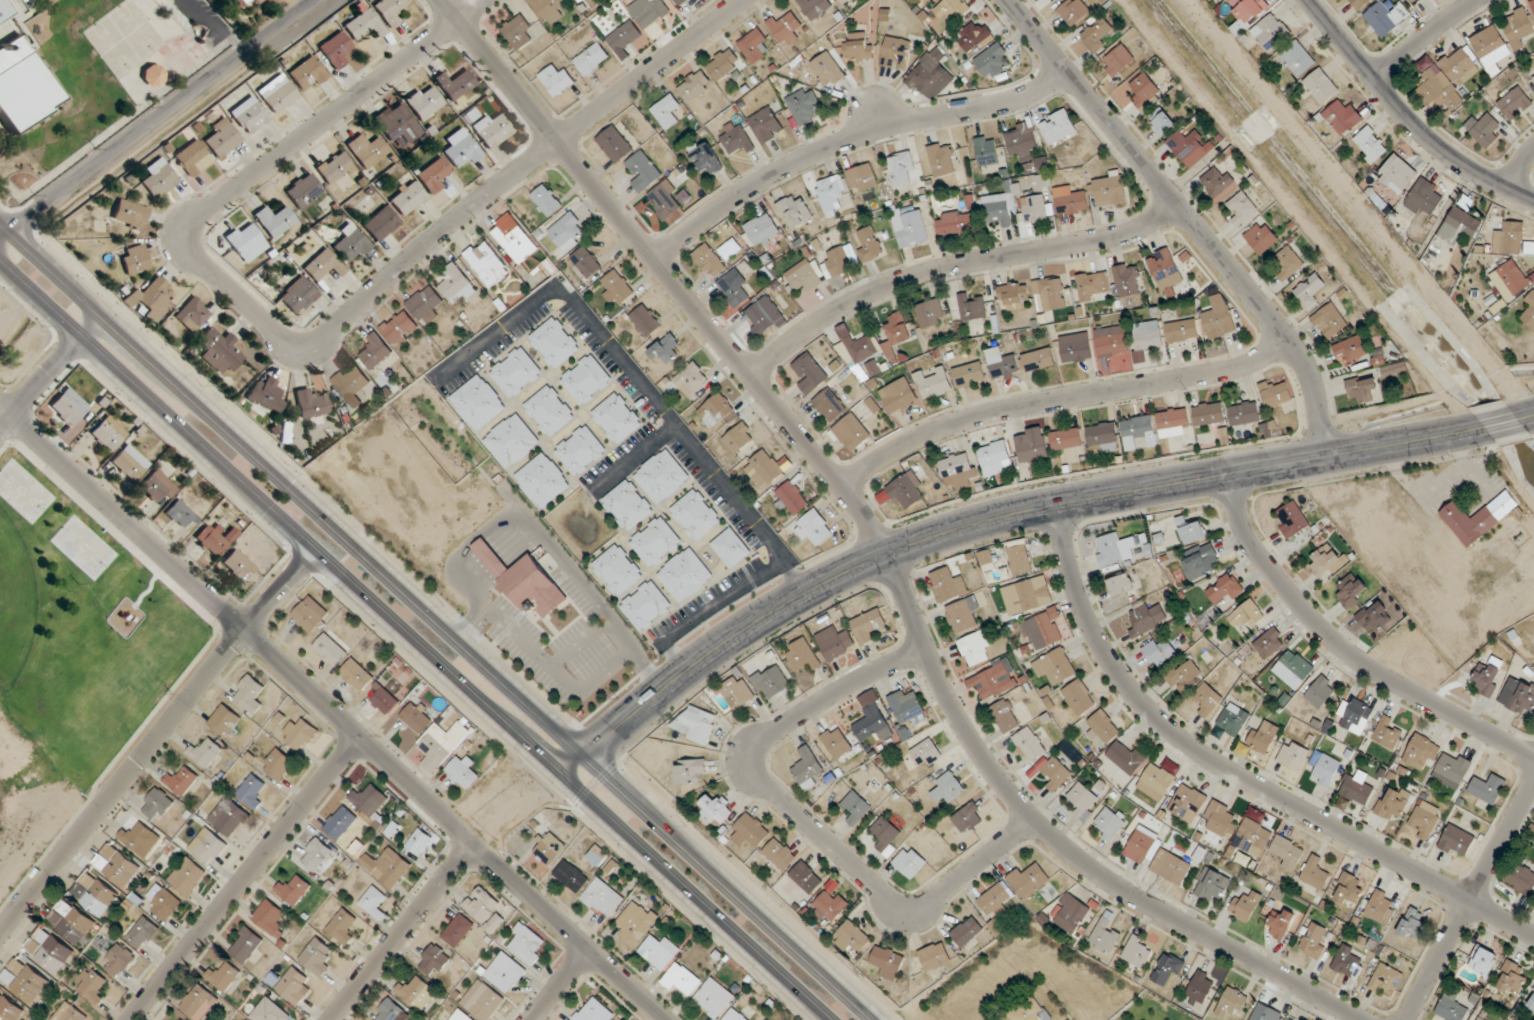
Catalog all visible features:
building: (1416, 0)
building: (257, 1)
building: (580, 1)
building: (842, 1)
building: (917, 1)
building: (241, 2)
building: (680, 2)
building: (1360, 3)
building: (1532, 4)
building: (548, 7)
building: (815, 7)
building: (389, 10)
building: (951, 10)
building: (1248, 10)
building: (3, 11)
building: (648, 11)
building: (1073, 11)
building: (1383, 20)
building: (364, 23)
road: (213, 27)
building: (1519, 27)
building: (784, 28)
building: (520, 32)
building: (1270, 32)
building: (1098, 34)
building: (624, 36)
road: (1423, 36)
building: (975, 37)
building: (753, 45)
building: (858, 47)
building: (1490, 49)
building: (335, 50)
building: (895, 53)
building: (1298, 58)
building: (592, 59)
building: (994, 61)
building: (1118, 61)
building: (1458, 63)
building: (723, 65)
building: (829, 68)
building: (308, 74)
building: (152, 75)
building: (928, 77)
building: (1533, 78)
building: (557, 80)
building: (455, 84)
building: (21, 86)
building: (695, 86)
building: (1321, 86)
building: (1437, 87)
building: (1145, 92)
building: (278, 93)
building: (424, 101)
building: (1515, 104)
building: (803, 105)
building: (667, 111)
building: (250, 114)
road: (1407, 116)
building: (1342, 117)
road: (156, 118)
building: (1161, 122)
building: (397, 123)
building: (766, 125)
building: (1058, 127)
building: (491, 130)
building: (1483, 130)
building: (223, 138)
road: (848, 139)
building: (737, 140)
building: (614, 144)
building: (1370, 145)
building: (461, 148)
building: (1189, 148)
building: (367, 149)
building: (987, 151)
building: (193, 158)
building: (705, 158)
building: (941, 160)
building: (334, 167)
road: (1519, 167)
building: (901, 168)
building: (643, 171)
building: (1397, 174)
building: (433, 175)
building: (159, 177)
building: (862, 178)
building: (1217, 182)
building: (303, 190)
building: (1110, 190)
building: (831, 193)
building: (1424, 197)
building: (407, 198)
building: (664, 200)
building: (546, 201)
building: (1070, 201)
building: (1242, 208)
building: (1034, 209)
building: (795, 210)
building: (999, 210)
building: (130, 214)
road: (1187, 218)
building: (275, 220)
building: (1461, 222)
building: (380, 223)
building: (955, 223)
building: (910, 227)
building: (761, 230)
building: (566, 232)
building: (514, 238)
building: (1262, 238)
building: (1510, 239)
building: (246, 241)
building: (351, 242)
building: (869, 244)
building: (730, 249)
building: (135, 260)
building: (709, 261)
building: (840, 261)
building: (586, 262)
building: (487, 263)
building: (1288, 263)
building: (323, 265)
road: (953, 267)
building: (1165, 269)
building: (806, 275)
building: (1127, 279)
building: (456, 283)
building: (1092, 284)
building: (735, 288)
building: (617, 289)
building: (1309, 291)
building: (1051, 293)
building: (298, 295)
building: (1014, 296)
building: (151, 299)
building: (426, 304)
building: (972, 309)
building: (1529, 310)
building: (930, 313)
building: (191, 315)
building: (764, 316)
building: (1219, 316)
building: (645, 321)
building: (1329, 321)
building: (400, 328)
building: (897, 329)
building: (1182, 331)
building: (1148, 335)
building: (554, 342)
building: (1111, 342)
road: (309, 344)
building: (1076, 348)
building: (219, 350)
building: (665, 350)
building: (857, 350)
building: (1351, 350)
building: (375, 351)
building: (1039, 360)
building: (1004, 367)
road: (50, 371)
building: (515, 372)
building: (810, 374)
building: (969, 375)
building: (586, 379)
building: (691, 379)
building: (933, 384)
building: (351, 385)
building: (1363, 389)
building: (1275, 394)
building: (266, 396)
building: (899, 396)
road: (1059, 399)
building: (478, 402)
building: (312, 404)
building: (829, 405)
building: (69, 407)
building: (548, 410)
building: (715, 411)
building: (1244, 413)
building: (1209, 414)
road: (1527, 416)
building: (616, 418)
building: (1173, 422)
road: (1501, 423)
building: (1139, 431)
building: (851, 433)
building: (108, 434)
building: (1104, 437)
building: (739, 438)
building: (1067, 438)
building: (512, 441)
road: (688, 442)
building: (1032, 445)
building: (580, 450)
building: (995, 459)
building: (129, 463)
building: (766, 469)
building: (958, 470)
building: (661, 476)
building: (542, 480)
building: (157, 487)
building: (905, 490)
park: (23, 491)
building: (791, 499)
building: (627, 505)
building: (179, 513)
building: (694, 515)
building: (1478, 518)
road: (989, 519)
building: (1291, 520)
building: (813, 527)
building: (1191, 531)
building: (215, 539)
building: (655, 541)
road: (883, 545)
park: (83, 547)
building: (730, 548)
building: (1115, 549)
building: (1019, 558)
building: (1328, 560)
building: (987, 561)
building: (1199, 561)
building: (616, 569)
building: (684, 574)
building: (524, 579)
building: (1124, 584)
building: (947, 585)
road: (146, 590)
building: (1224, 590)
building: (1351, 591)
building: (1027, 596)
building: (645, 605)
building: (963, 614)
building: (1247, 614)
building: (1375, 614)
building: (307, 617)
road: (439, 619)
building: (1147, 620)
building: (867, 625)
building: (1042, 631)
road: (414, 642)
building: (835, 643)
building: (1269, 643)
building: (331, 648)
building: (975, 648)
building: (1159, 651)
road: (1345, 651)
building: (802, 655)
park: (71, 656)
building: (1296, 665)
building: (1054, 667)
building: (1184, 673)
building: (357, 675)
building: (1489, 677)
building: (996, 679)
building: (771, 682)
building: (736, 692)
building: (1320, 692)
building: (250, 694)
building: (1079, 697)
building: (1519, 697)
building: (1207, 699)
building: (384, 700)
building: (906, 707)
road: (333, 712)
building: (1005, 716)
building: (1355, 716)
building: (416, 718)
building: (1233, 719)
building: (225, 721)
building: (696, 724)
building: (873, 725)
building: (1104, 727)
building: (1389, 733)
building: (301, 734)
building: (1262, 738)
road: (155, 739)
building: (835, 743)
building: (442, 744)
building: (1028, 745)
building: (1421, 752)
building: (206, 753)
building: (925, 754)
building: (1293, 756)
building: (1125, 757)
building: (278, 764)
building: (807, 769)
building: (1326, 770)
building: (1452, 770)
building: (691, 771)
building: (1054, 771)
building: (462, 772)
road: (1236, 773)
building: (181, 780)
building: (1156, 781)
building: (948, 788)
building: (1487, 788)
building: (1357, 789)
building: (252, 791)
building: (370, 800)
building: (1083, 801)
building: (1394, 803)
building: (1187, 804)
building: (156, 805)
building: (856, 807)
building: (716, 809)
building: (228, 816)
building: (967, 818)
building: (1425, 819)
building: (1221, 820)
road: (804, 821)
building: (341, 823)
building: (1109, 823)
building: (750, 831)
building: (885, 837)
building: (1253, 838)
building: (139, 839)
building: (419, 842)
building: (1457, 842)
building: (1140, 845)
building: (207, 846)
building: (549, 849)
building: (1287, 852)
building: (780, 854)
building: (318, 857)
building: (909, 863)
building: (116, 865)
building: (388, 867)
building: (1171, 867)
building: (1315, 874)
building: (187, 876)
building: (571, 876)
road: (244, 878)
building: (806, 878)
building: (1028, 880)
building: (1213, 886)
building: (1348, 889)
building: (293, 890)
building: (94, 894)
building: (602, 898)
building: (372, 900)
road: (1467, 900)
building: (164, 902)
building: (994, 902)
building: (481, 904)
building: (1245, 906)
building: (829, 907)
building: (1380, 908)
building: (1070, 914)
building: (271, 920)
building: (72, 921)
building: (636, 922)
building: (1412, 923)
building: (494, 924)
building: (344, 925)
building: (1281, 925)
building: (457, 930)
road: (400, 931)
building: (966, 932)
building: (143, 933)
building: (1105, 935)
building: (851, 937)
building: (1315, 941)
building: (525, 943)
building: (246, 945)
building: (49, 950)
building: (658, 951)
building: (1137, 952)
building: (934, 956)
building: (316, 957)
building: (887, 959)
building: (118, 961)
building: (433, 962)
building: (1346, 962)
building: (1483, 962)
building: (1167, 969)
building: (504, 972)
building: (224, 976)
building: (1512, 977)
building: (683, 978)
building: (1384, 979)
building: (24, 981)
road: (559, 984)
building: (91, 985)
building: (293, 986)
building: (1200, 987)
building: (416, 993)
building: (1533, 996)
building: (712, 998)
building: (481, 1001)
building: (199, 1003)
building: (1232, 1003)
building: (1451, 1007)
building: (9, 1009)
building: (1028, 1010)
building: (269, 1011)
building: (390, 1011)
building: (595, 1011)
building: (70, 1012)
building: (1266, 1013)
building: (734, 1015)
building: (460, 1016)
building: (767, 1019)
building: (1288, 1019)
building: (1480, 1019)

